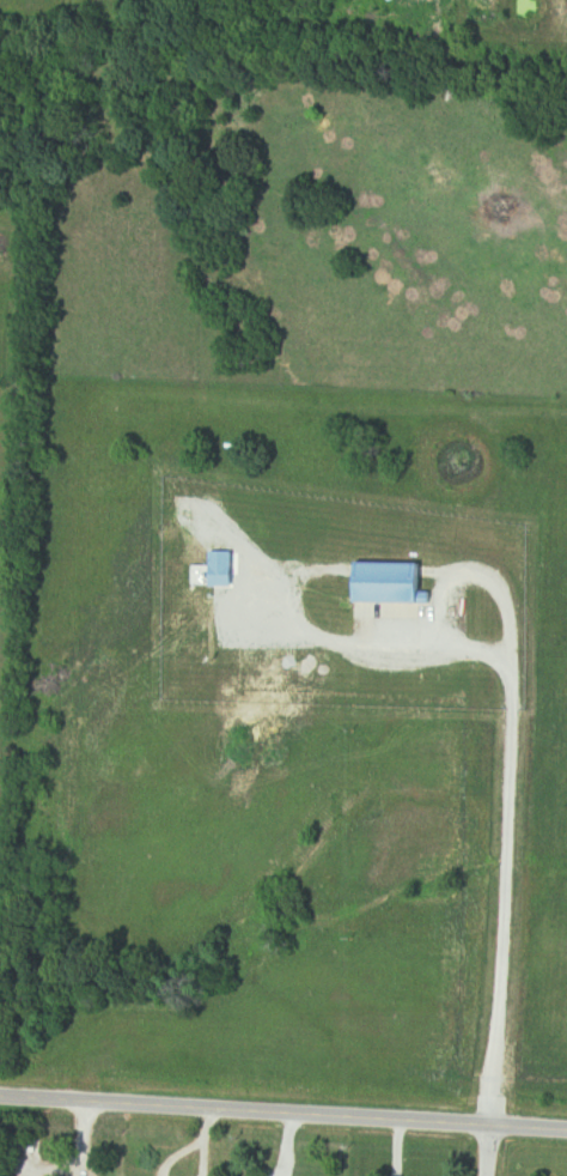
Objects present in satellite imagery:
road: (507, 764)
road: (283, 1113)
road: (488, 1150)

